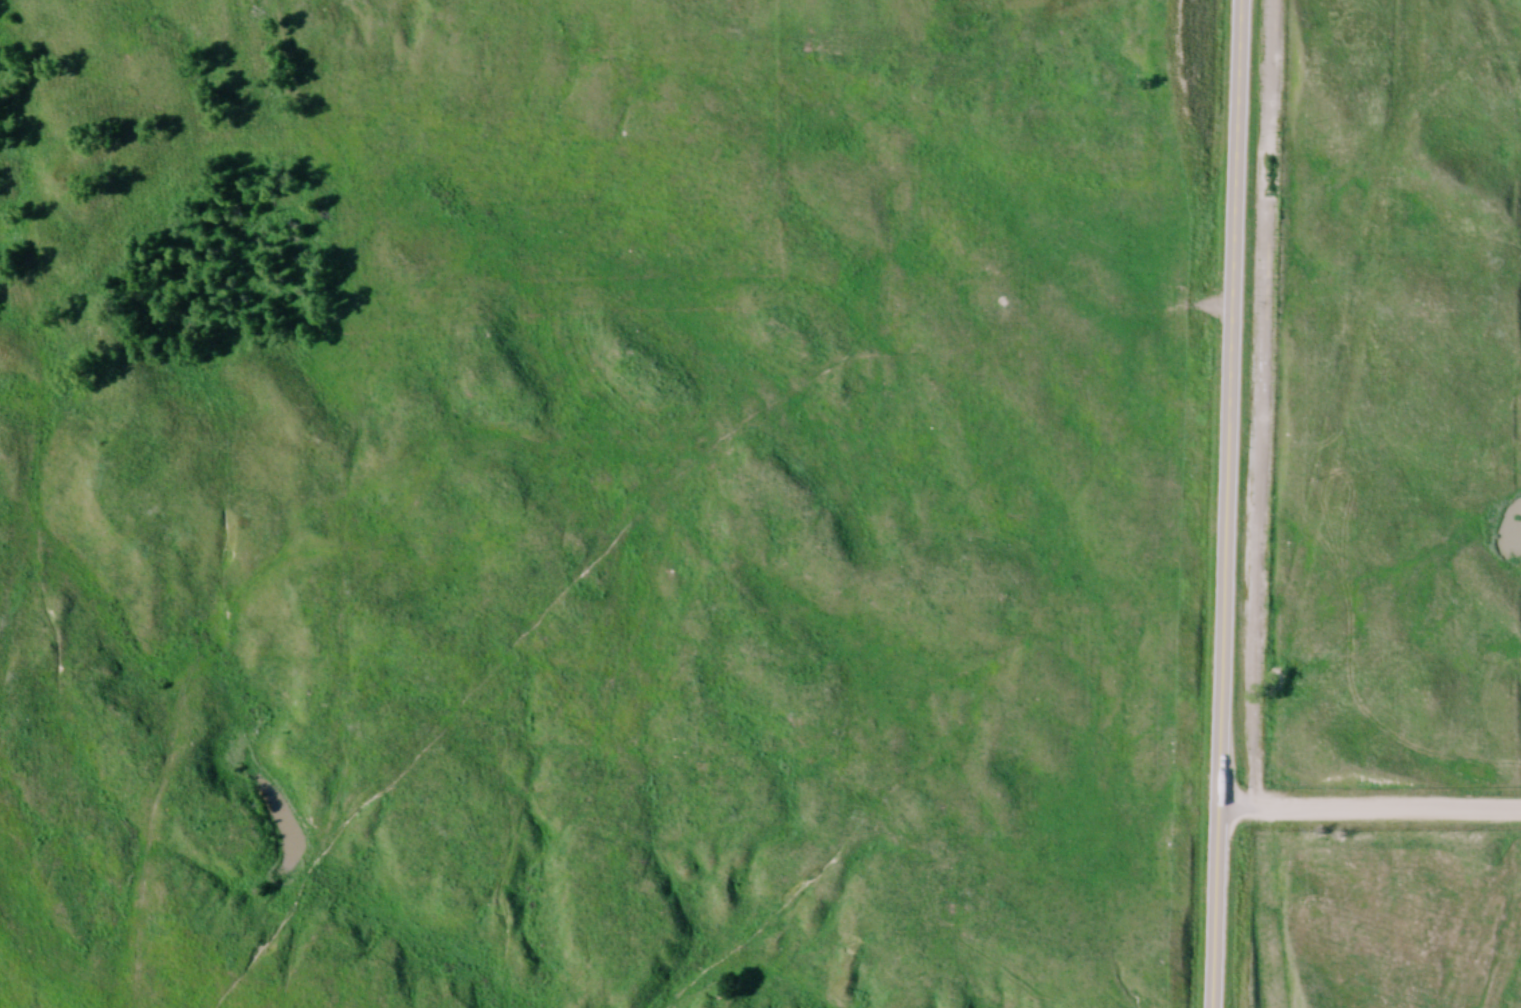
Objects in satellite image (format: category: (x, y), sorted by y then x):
road: (1228, 503)
road: (1370, 811)

